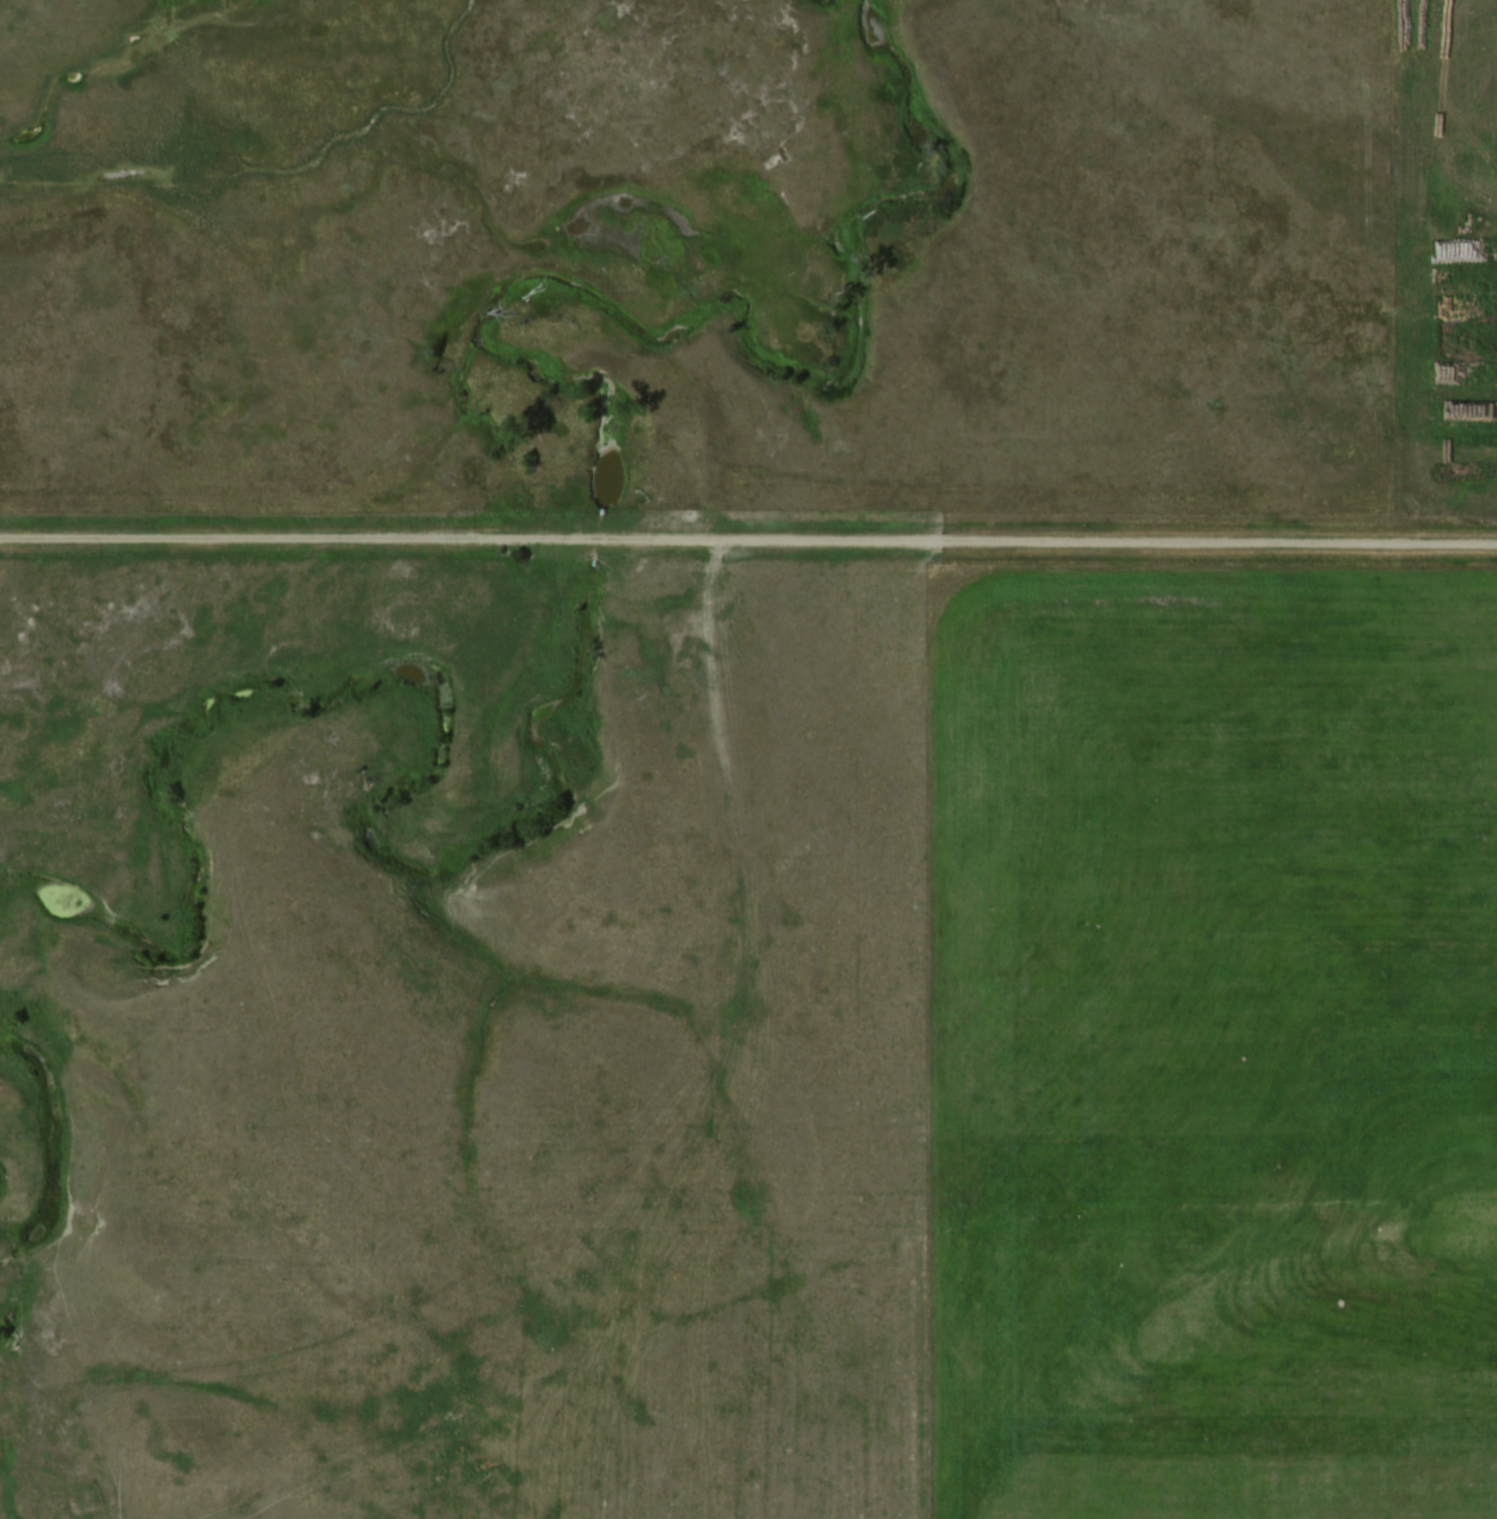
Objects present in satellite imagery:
road: (748, 537)

